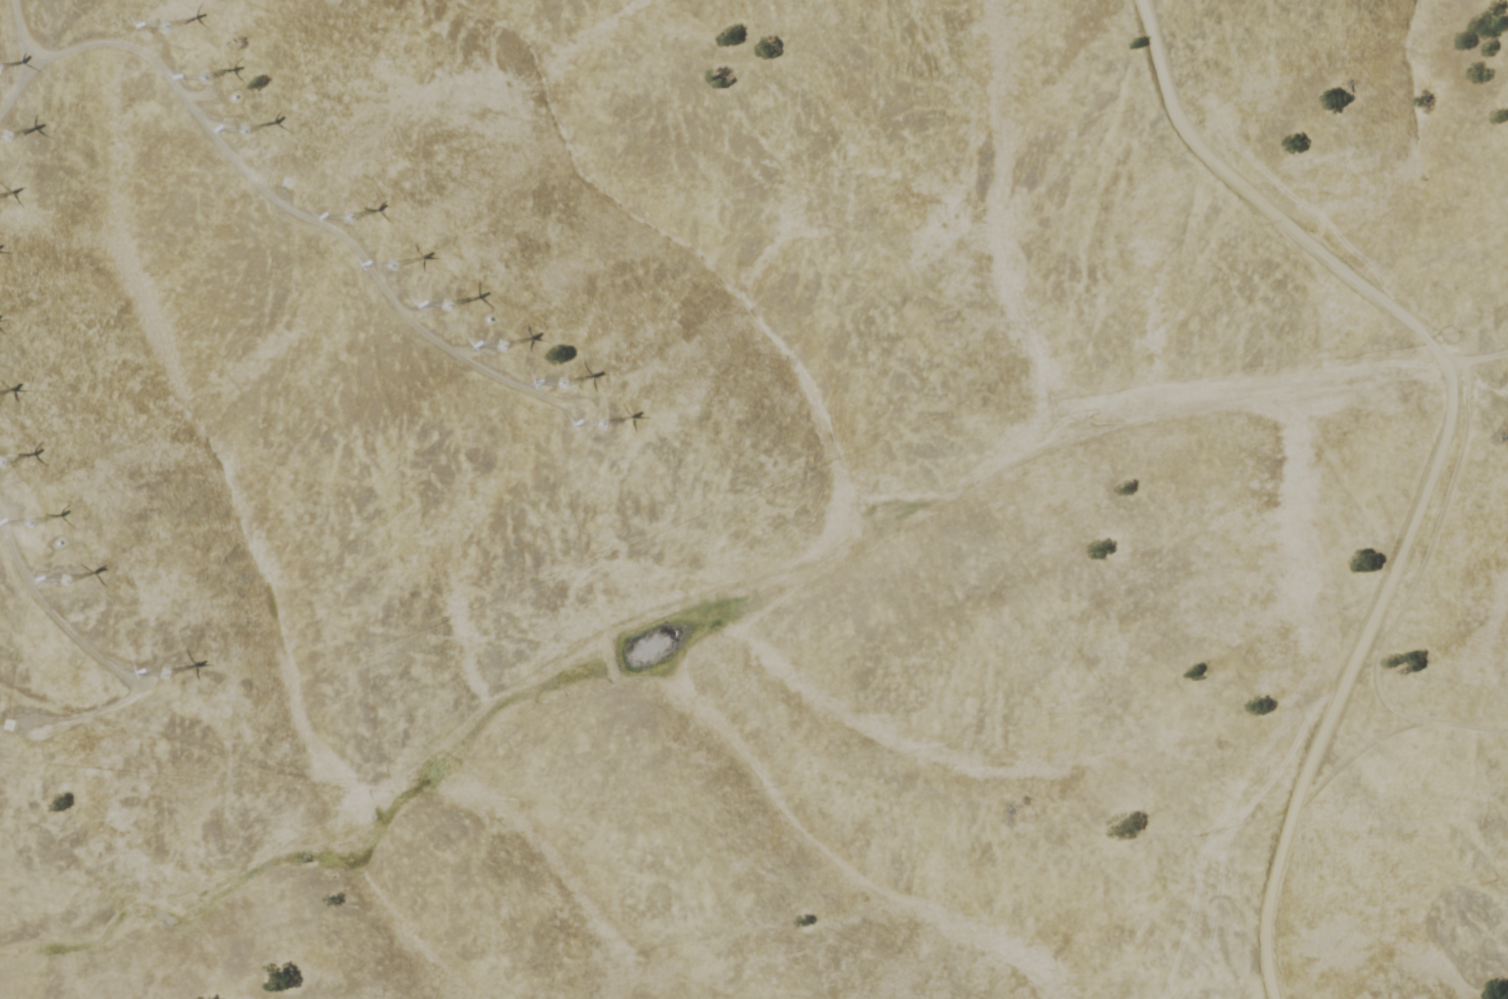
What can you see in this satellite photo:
wind turbine: (165, 32)
road: (20, 65)
road: (22, 82)
wind turbine: (213, 82)
wind turbine: (239, 128)
wind turbine: (4, 135)
wind turbine: (293, 184)
road: (269, 194)
road: (1259, 201)
wind turbine: (351, 222)
wind turbine: (395, 270)
wind turbine: (443, 298)
wind turbine: (507, 350)
road: (1475, 356)
wind turbine: (567, 384)
road: (591, 414)
wind turbine: (603, 422)
wind turbine: (1, 462)
wind turbine: (31, 520)
wind turbine: (53, 576)
road: (1408, 594)
road: (50, 616)
wind turbine: (165, 672)
road: (1345, 676)
road: (1349, 757)

